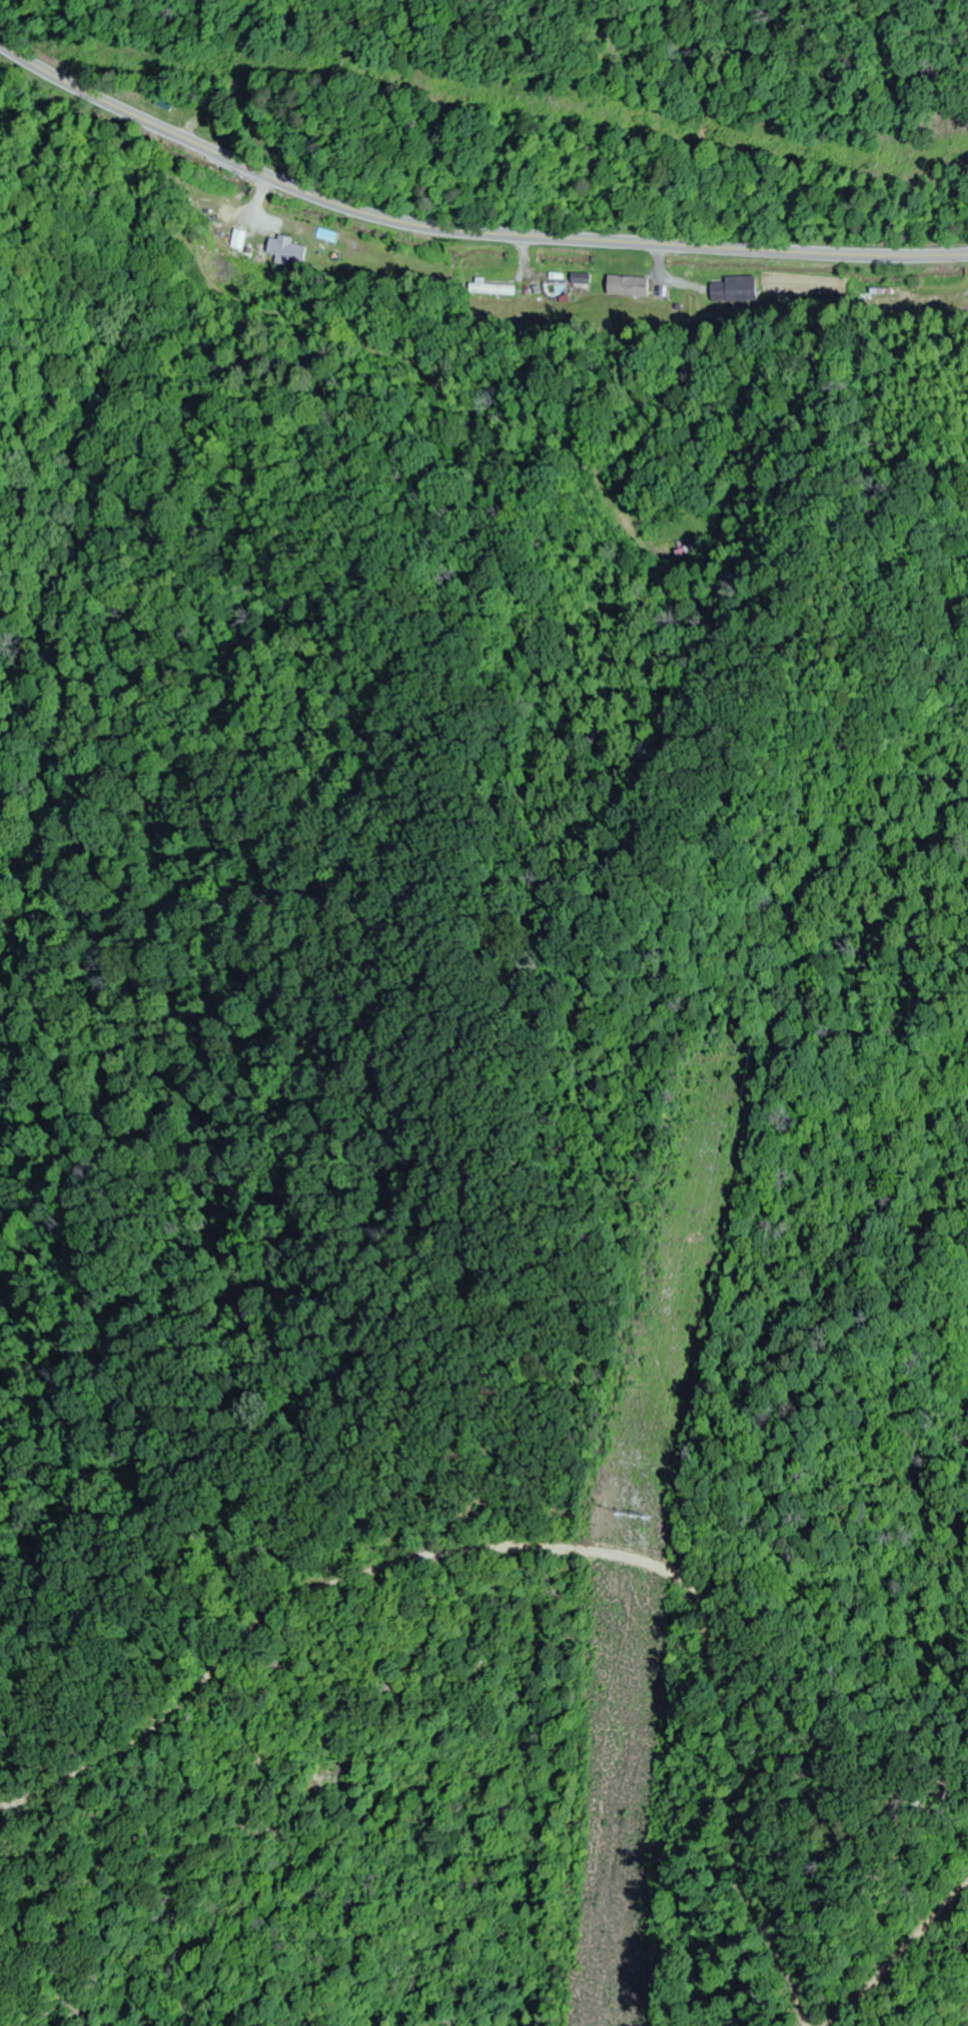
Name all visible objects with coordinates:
road: (464, 231)
building: (288, 250)
building: (393, 262)
building: (628, 287)
building: (493, 290)

